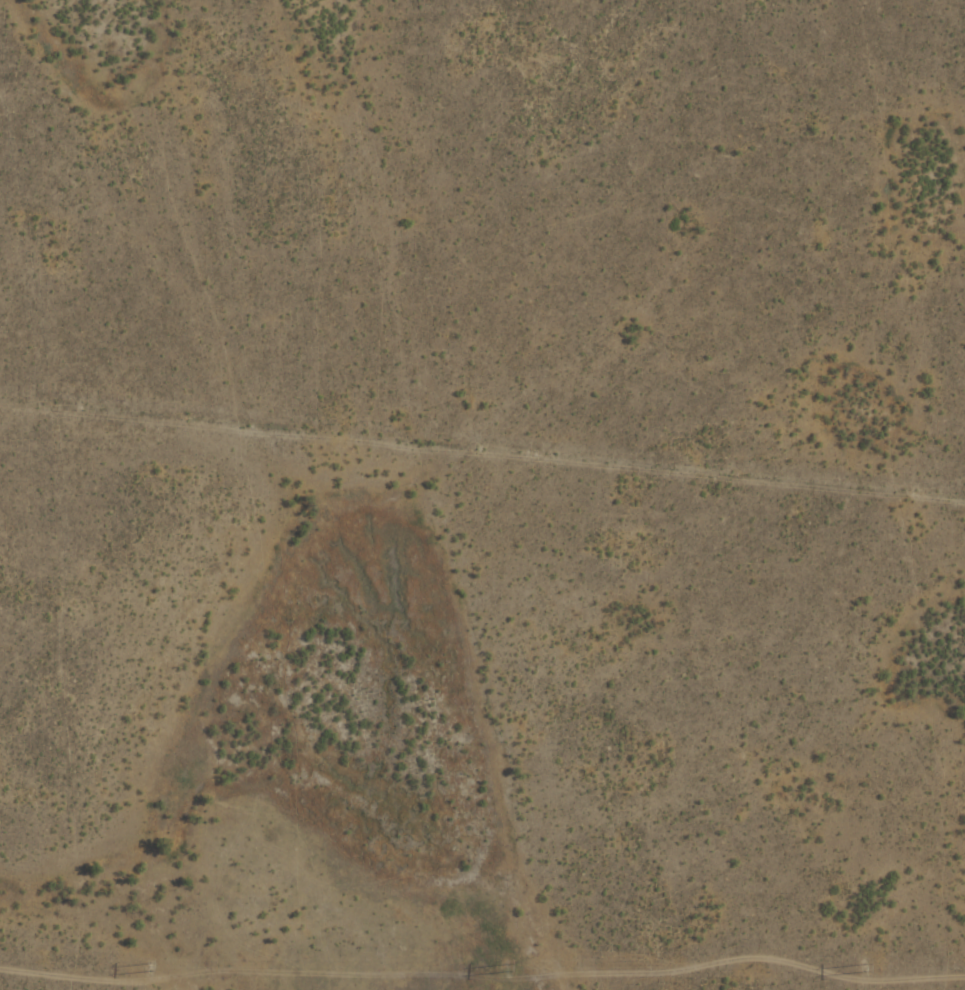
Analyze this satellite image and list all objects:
power tower: (508, 967)
power tower: (152, 968)
power tower: (867, 968)

